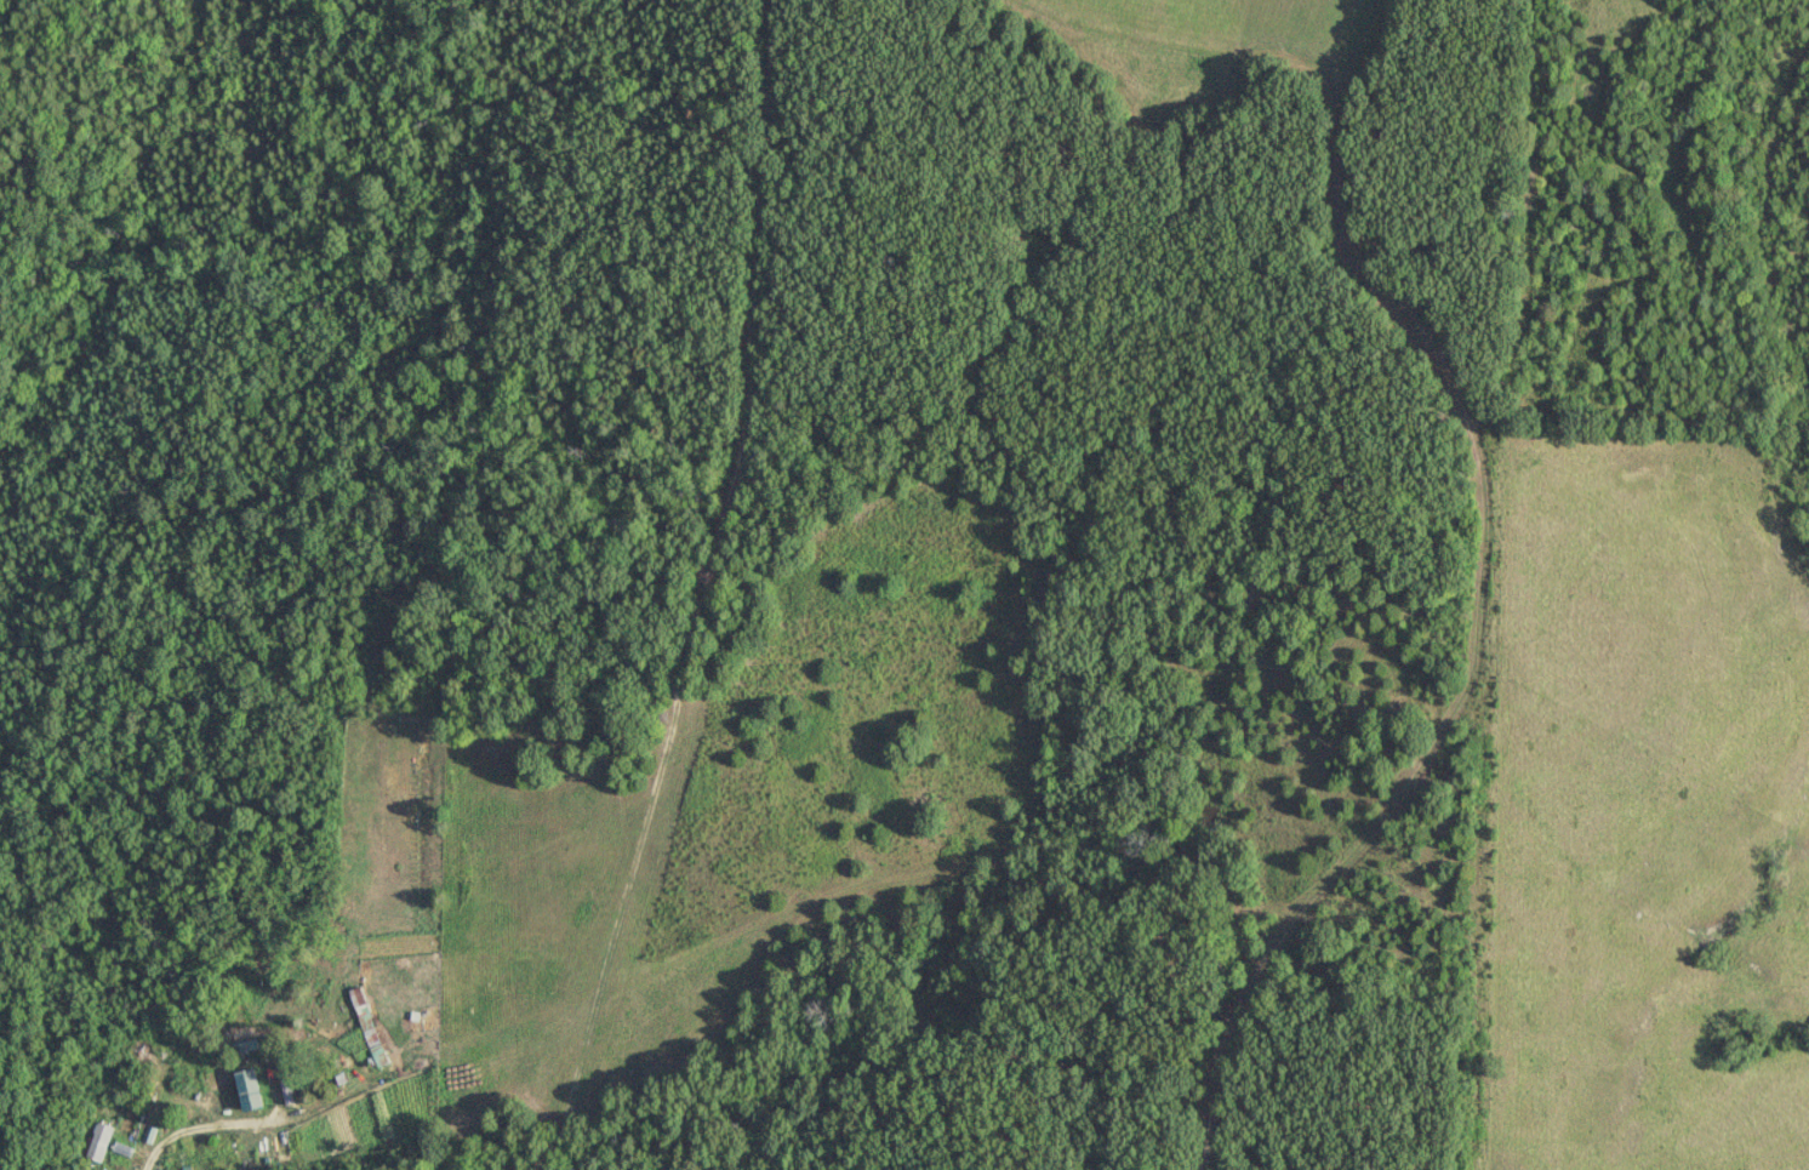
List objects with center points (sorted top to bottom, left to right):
building: (249, 1090)
road: (274, 1123)
building: (98, 1142)
building: (121, 1148)

